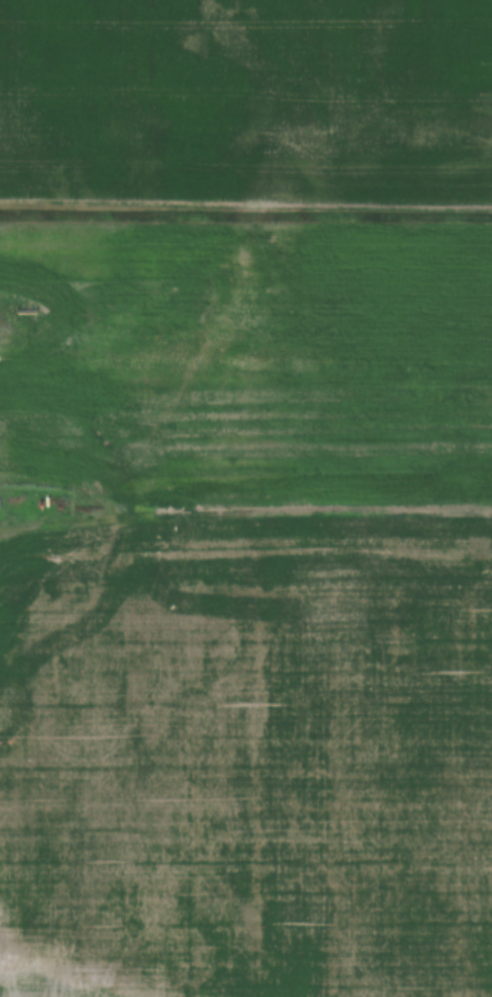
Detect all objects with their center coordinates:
road: (246, 208)
road: (245, 507)

